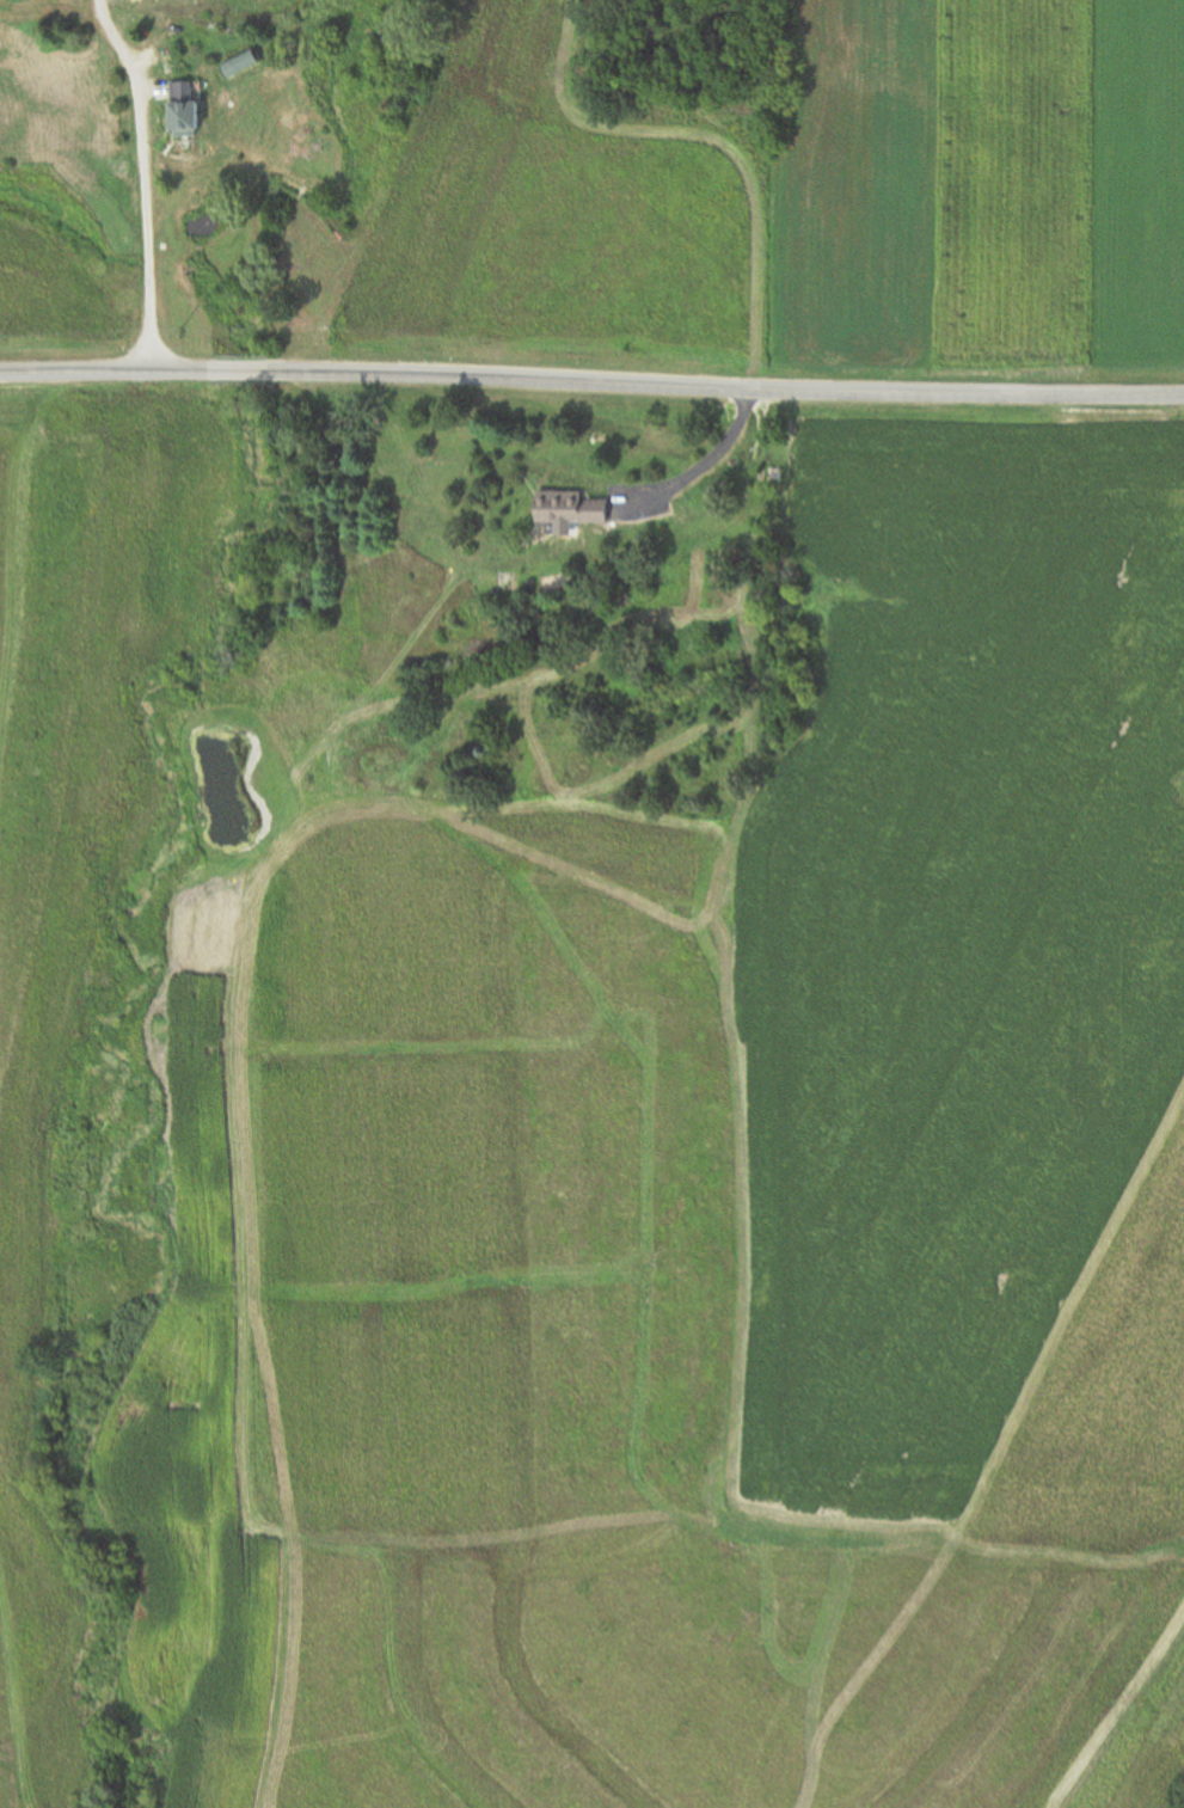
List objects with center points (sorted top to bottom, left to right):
building: (184, 108)
road: (147, 180)
road: (591, 380)
building: (570, 508)

